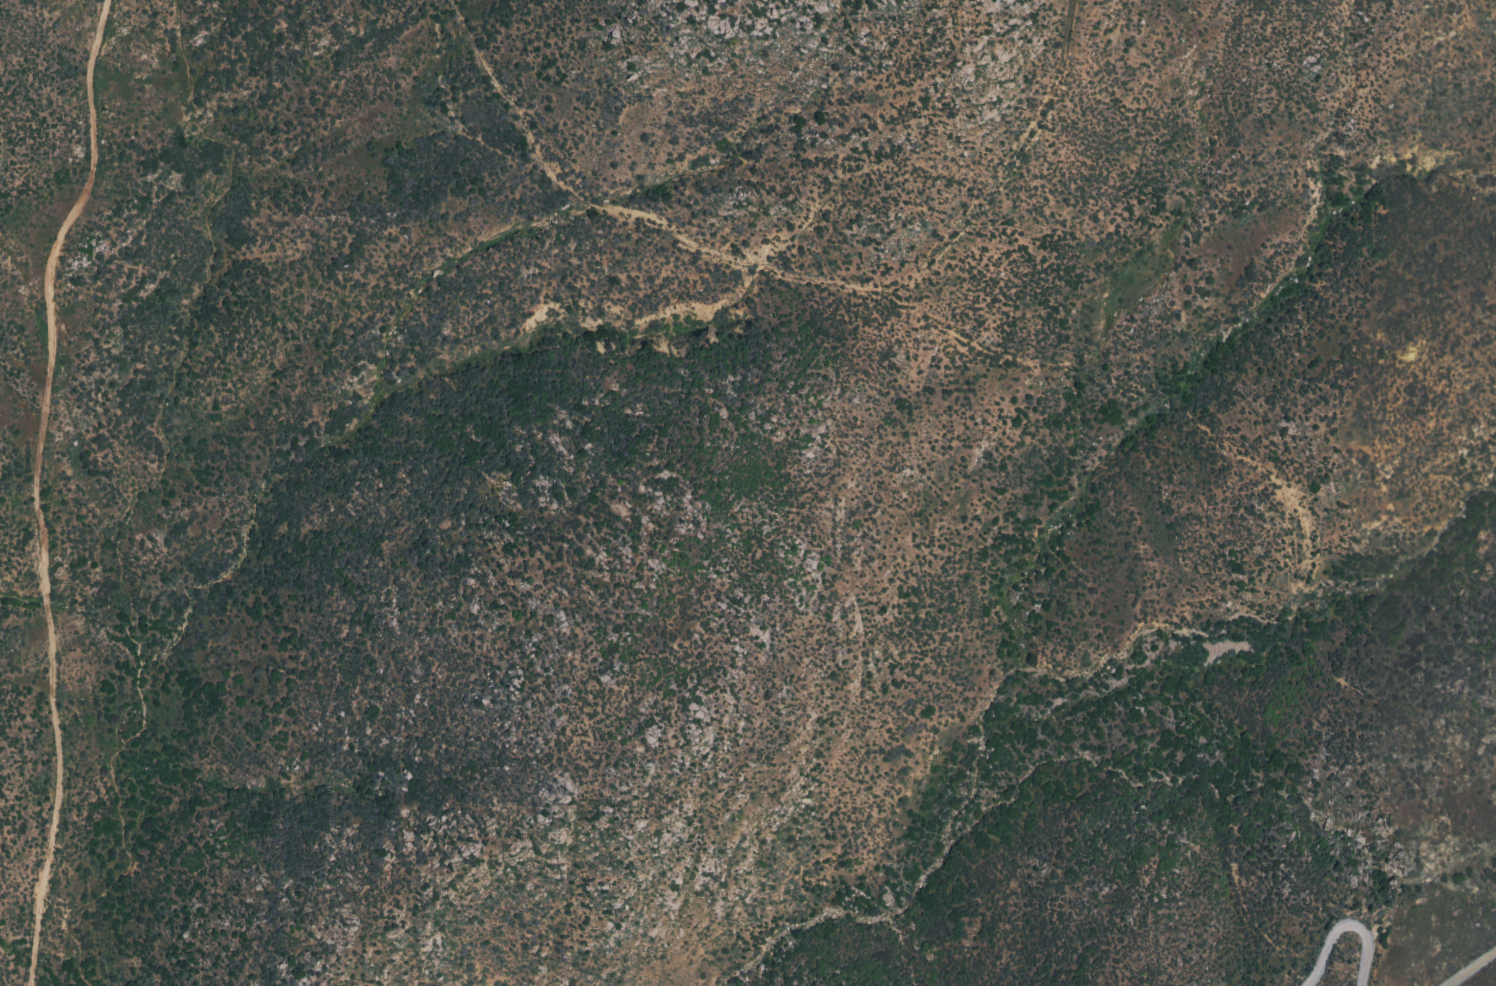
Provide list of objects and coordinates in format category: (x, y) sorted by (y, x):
road: (1338, 922)
road: (1466, 962)

